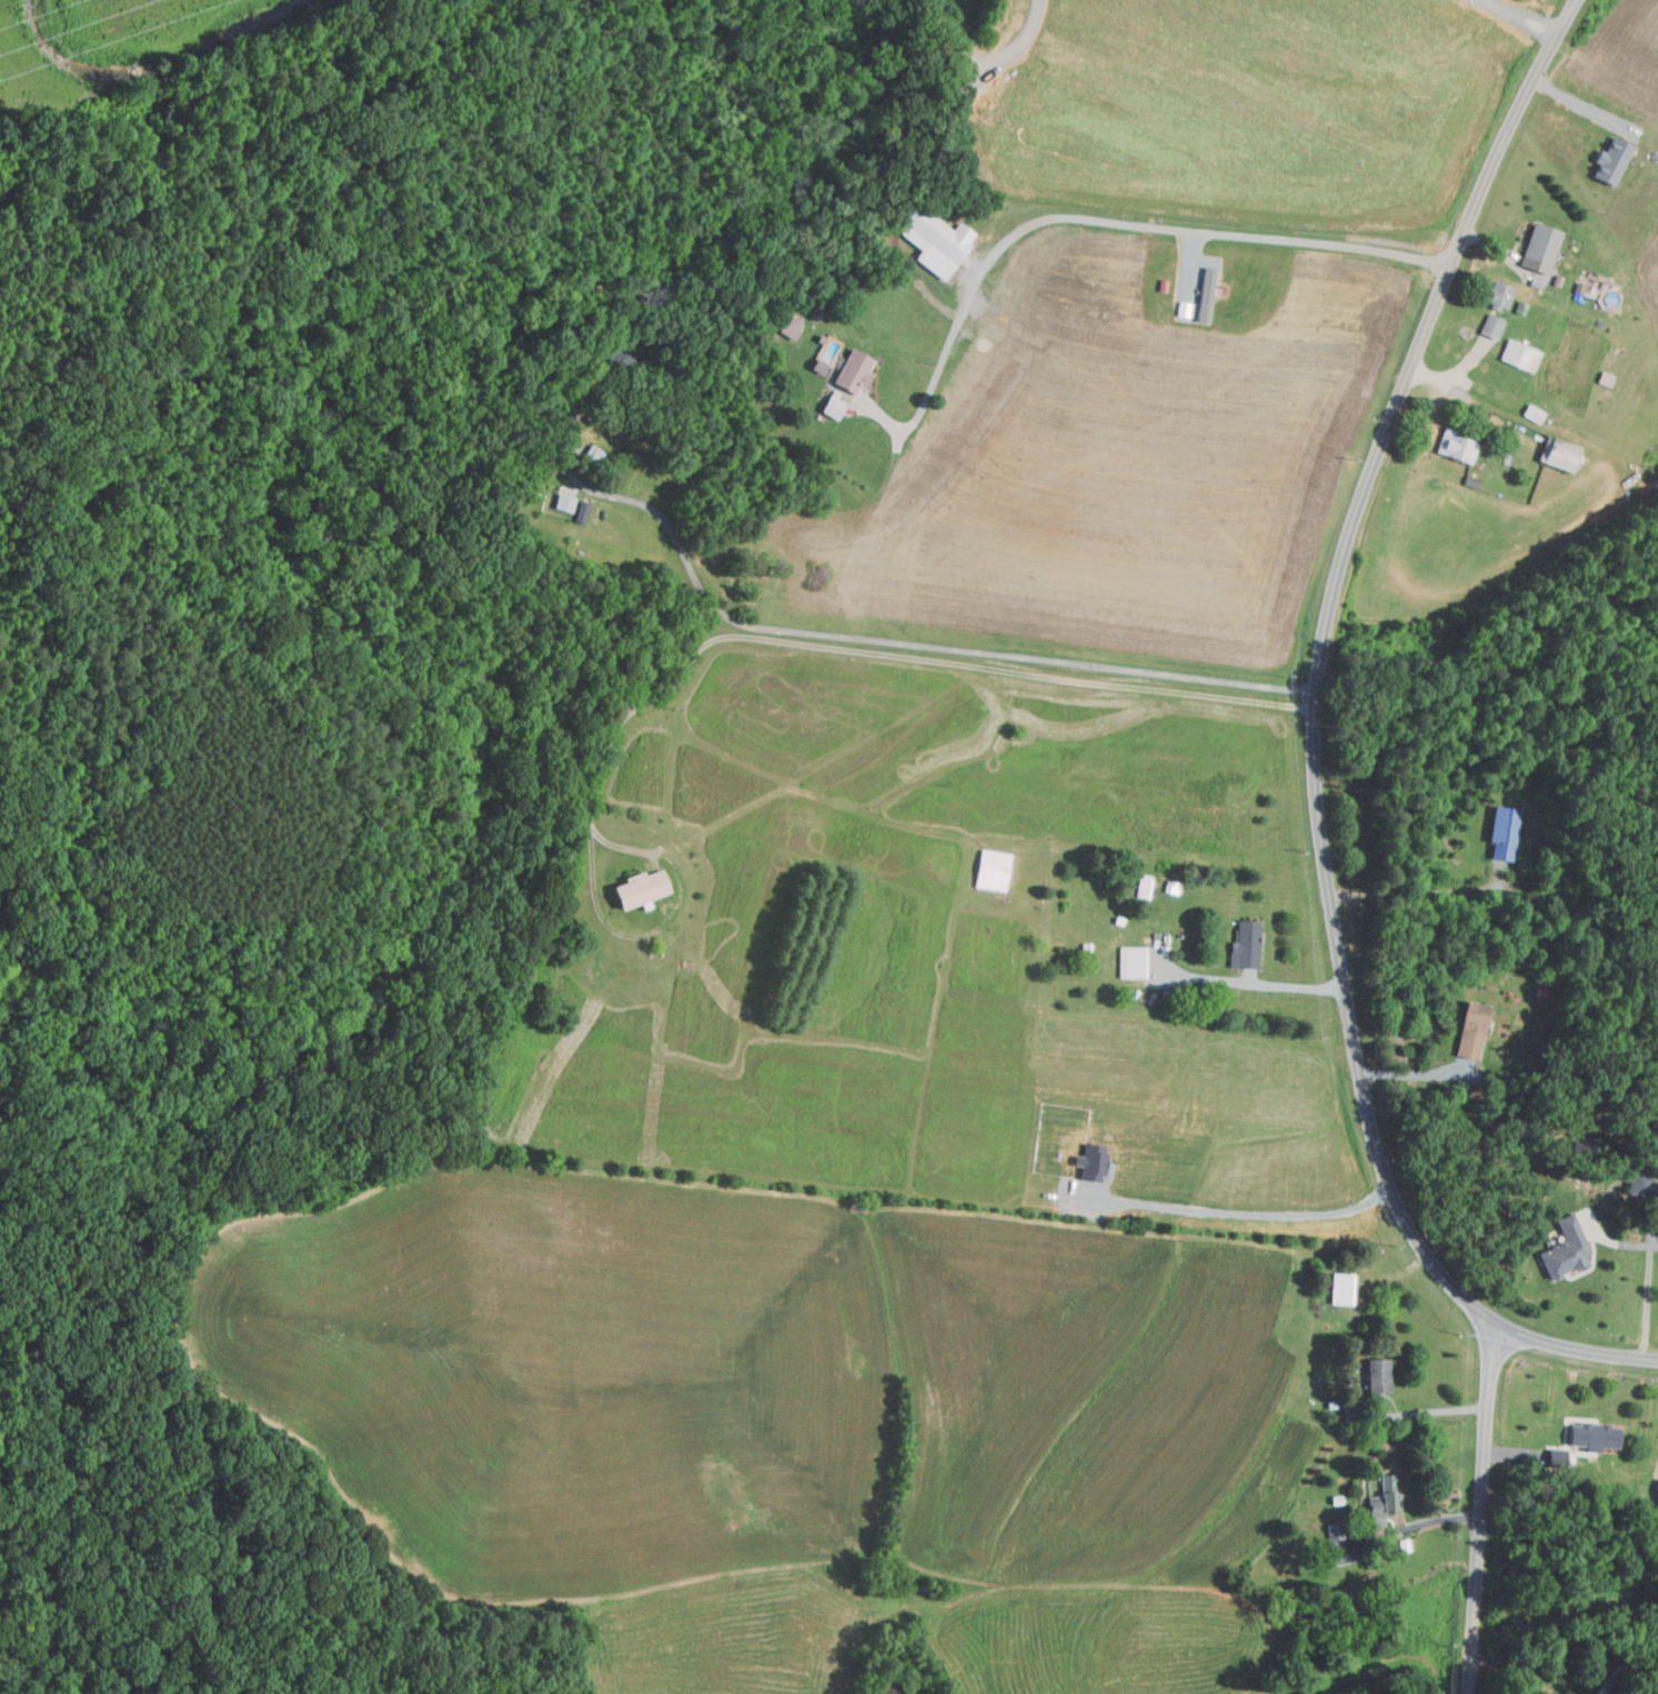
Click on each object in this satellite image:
road: (1580, 104)
building: (1608, 160)
road: (1099, 220)
building: (931, 239)
building: (1537, 251)
building: (1496, 294)
building: (787, 325)
building: (1490, 325)
building: (824, 352)
building: (1519, 354)
building: (851, 371)
road: (1450, 374)
building: (830, 406)
building: (1531, 413)
building: (1453, 445)
building: (1556, 453)
building: (562, 502)
building: (580, 512)
road: (871, 641)
road: (864, 652)
road: (1312, 744)
building: (1501, 831)
building: (989, 869)
building: (636, 889)
road: (1418, 895)
building: (1244, 945)
building: (1129, 961)
road: (1257, 987)
building: (1469, 1029)
road: (1410, 1073)
road: (1247, 1216)
road: (1625, 1246)
building: (1564, 1249)
road: (1647, 1280)
building: (1377, 1377)
road: (1421, 1413)
building: (1591, 1435)
road: (1510, 1454)
building: (1655, 1490)
building: (1383, 1500)
road: (1480, 1509)
road: (1426, 1522)
building: (1336, 1543)
road: (1513, 1675)

